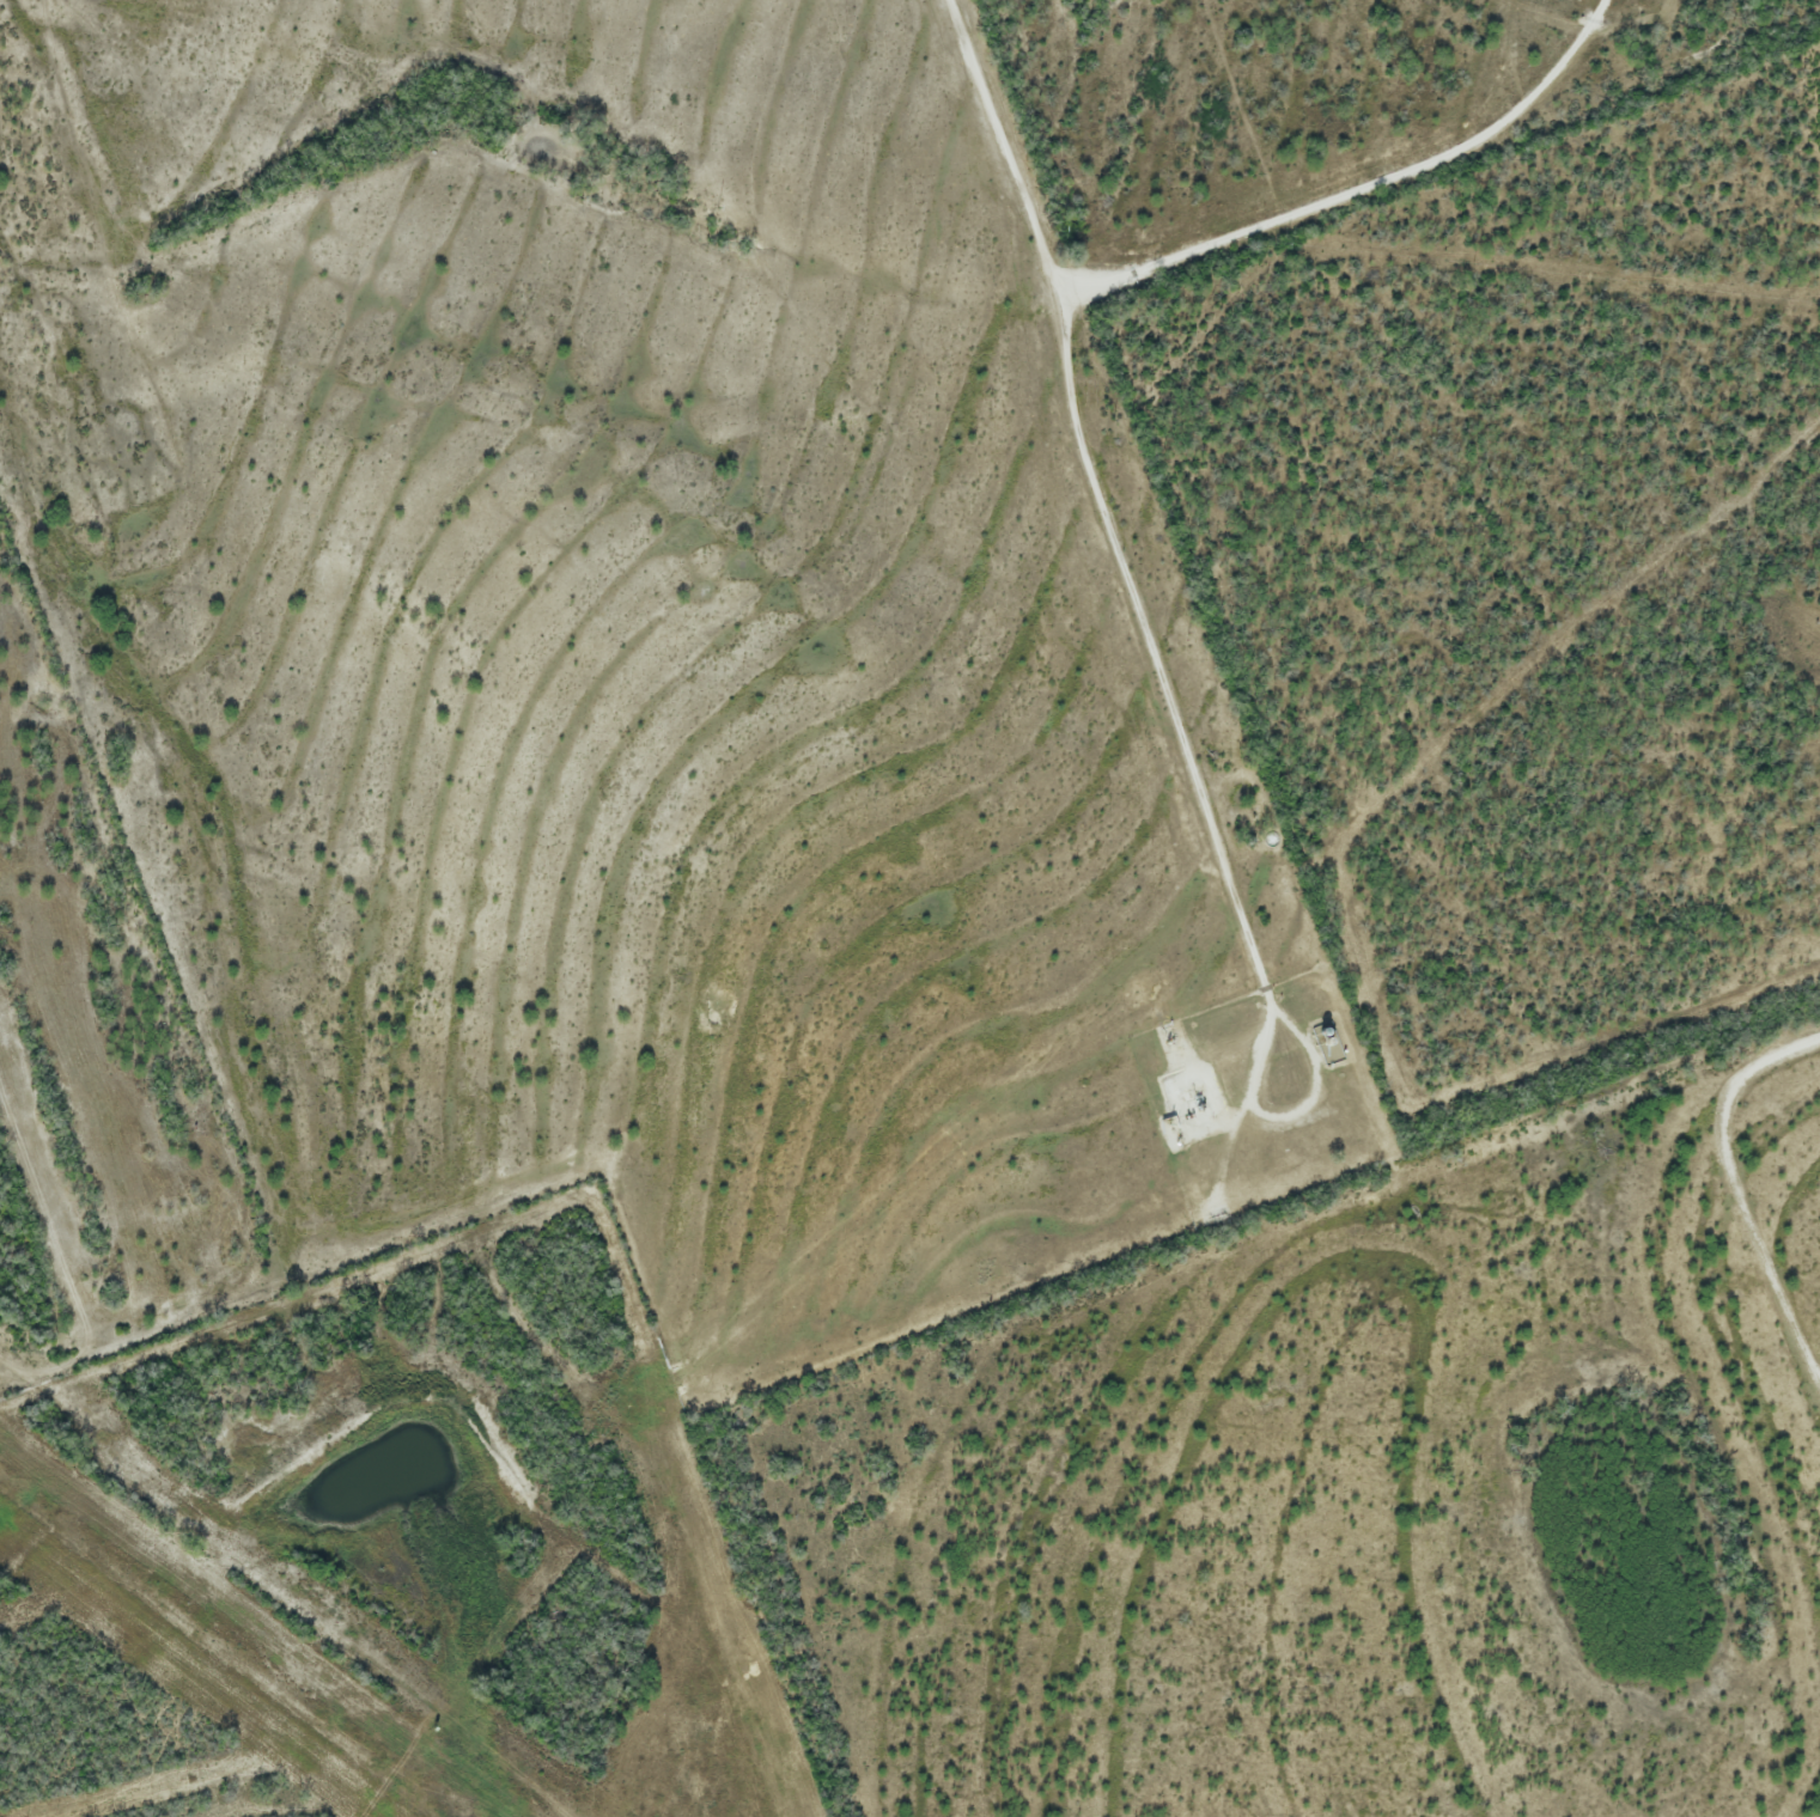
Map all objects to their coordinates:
road: (1221, 249)
building: (1328, 1044)

